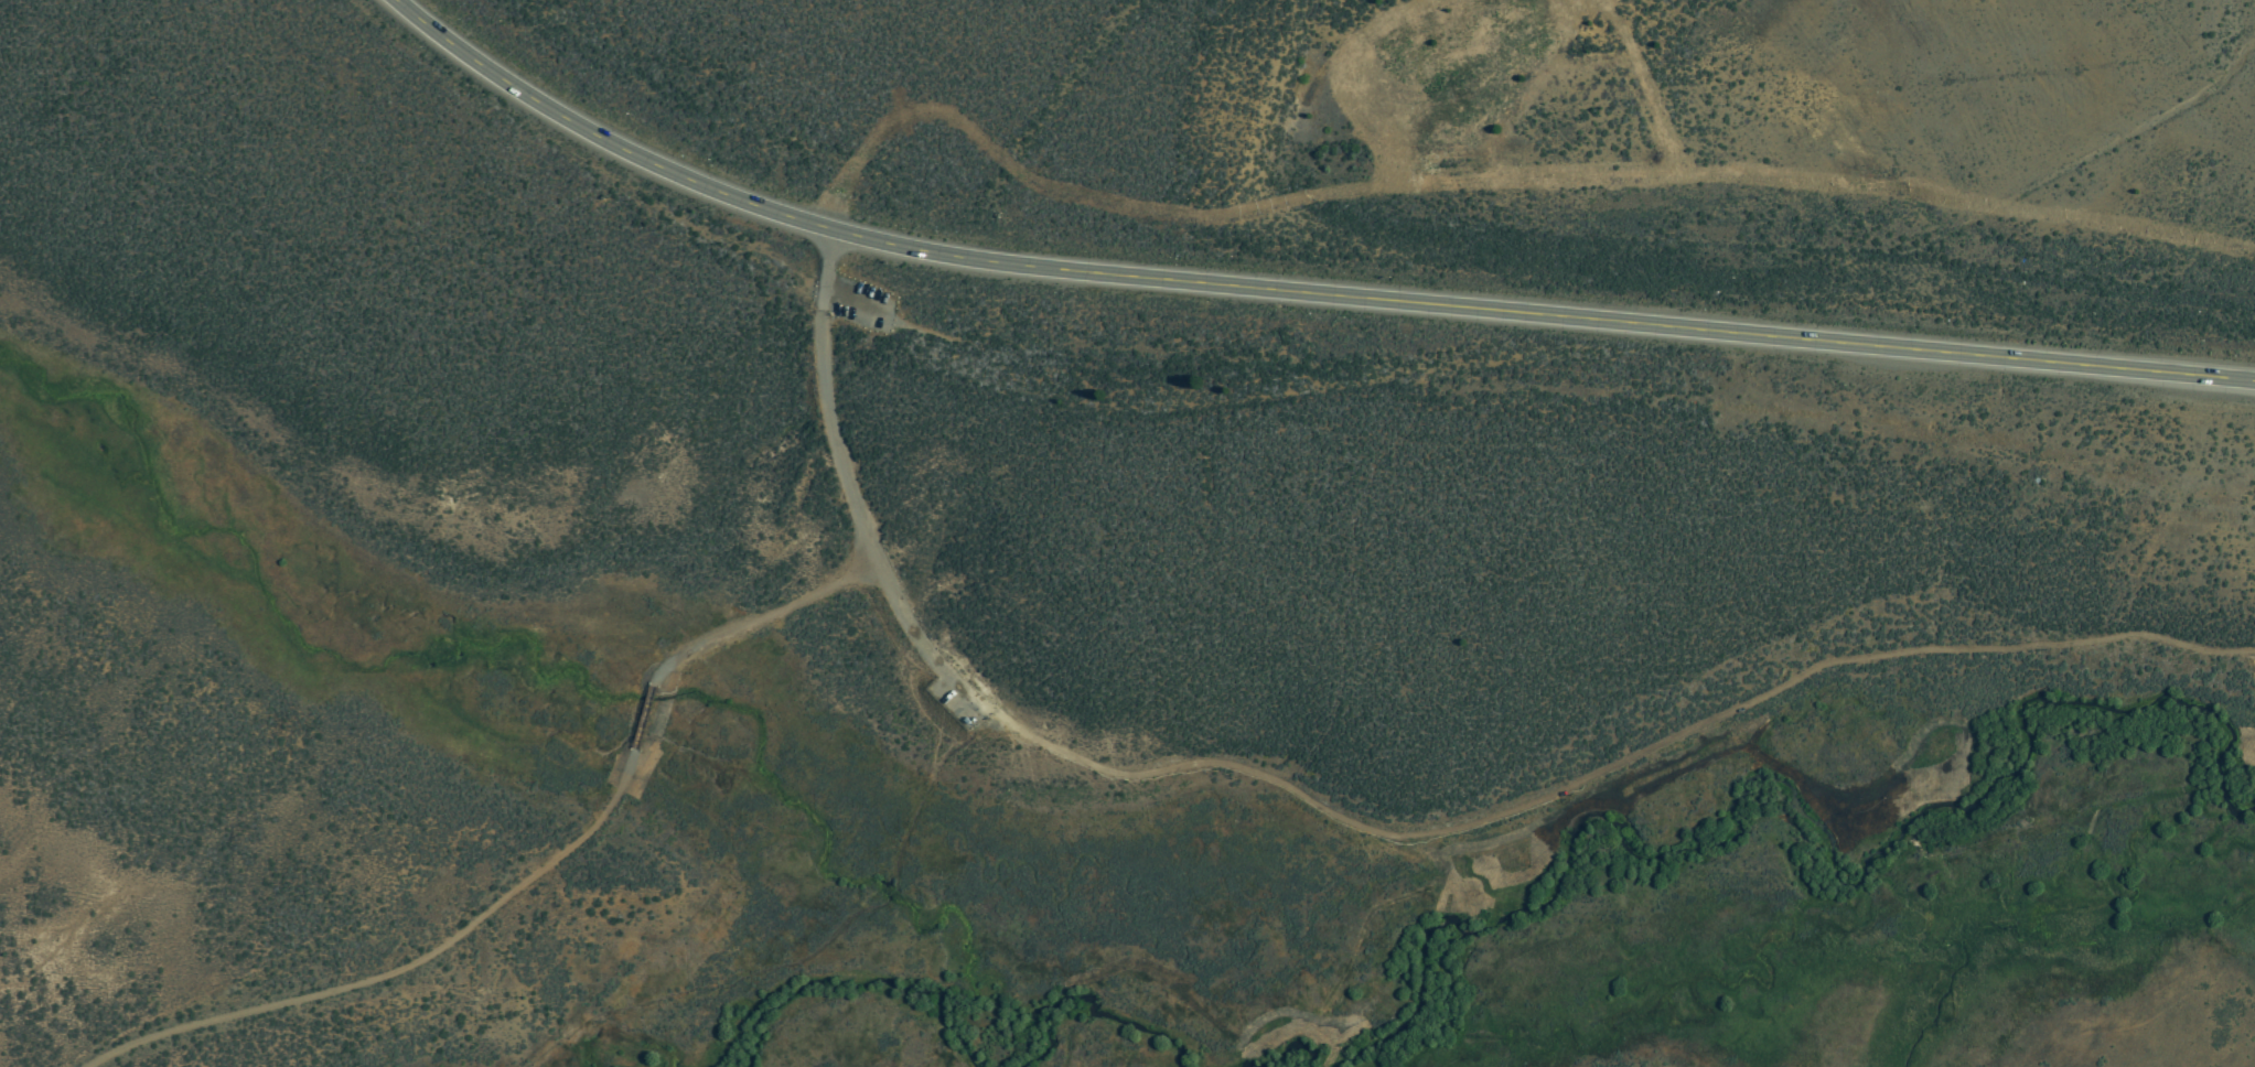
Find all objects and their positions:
road: (1292, 291)
road: (845, 489)
parking lot: (955, 687)
road: (1677, 731)
road: (1048, 742)
road: (533, 872)
road: (888, 893)

